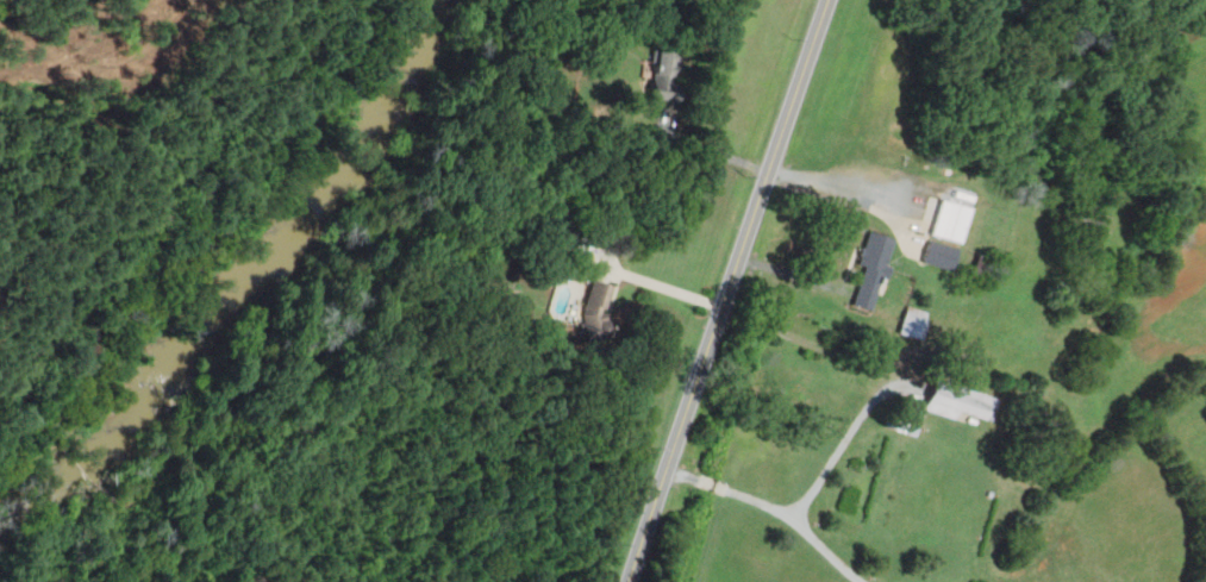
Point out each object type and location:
building: (664, 75)
road: (705, 146)
road: (839, 186)
park: (160, 190)
building: (948, 219)
road: (204, 254)
building: (938, 254)
building: (870, 267)
road: (794, 274)
road: (658, 283)
river: (246, 289)
road: (726, 290)
building: (594, 308)
building: (911, 321)
building: (958, 401)
road: (844, 439)
road: (775, 507)

